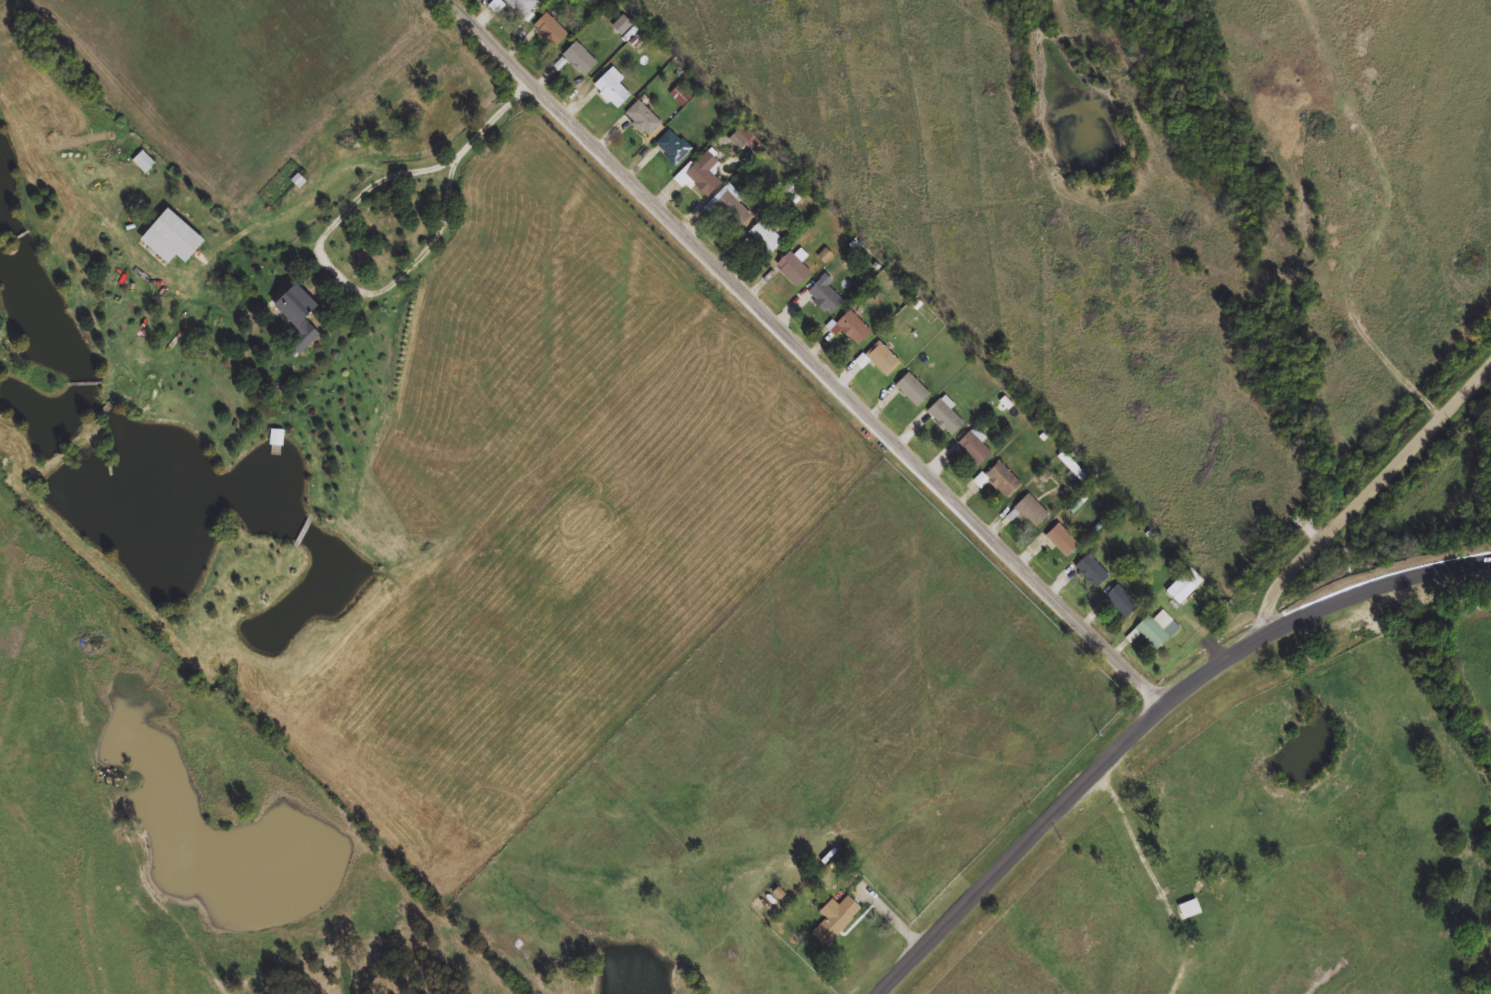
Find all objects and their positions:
building: (497, 6)
building: (523, 6)
building: (621, 26)
building: (549, 30)
building: (579, 58)
building: (611, 88)
building: (681, 95)
building: (643, 120)
building: (742, 138)
building: (672, 147)
building: (143, 163)
building: (701, 176)
building: (731, 206)
road: (330, 233)
building: (765, 237)
building: (168, 238)
building: (824, 256)
building: (794, 267)
building: (824, 295)
building: (294, 315)
building: (849, 328)
road: (809, 353)
building: (879, 360)
building: (911, 389)
building: (945, 416)
building: (974, 446)
building: (1071, 467)
building: (1003, 480)
building: (980, 481)
road: (1368, 497)
building: (1076, 508)
building: (1030, 511)
building: (1060, 540)
building: (1091, 571)
building: (1184, 587)
building: (1122, 601)
building: (1157, 630)
road: (1150, 720)
building: (1187, 910)
building: (834, 920)

